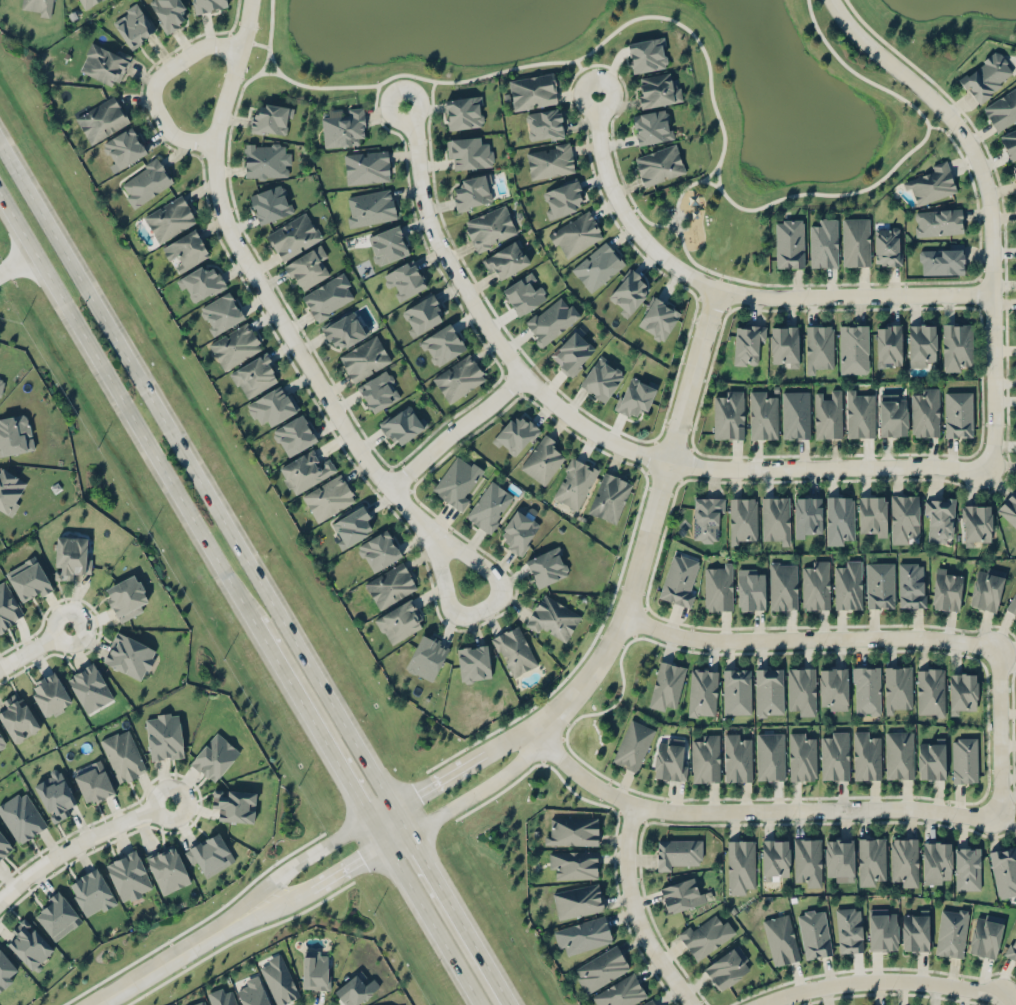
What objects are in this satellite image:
building: (86, 2)
building: (207, 4)
building: (37, 7)
building: (167, 12)
building: (133, 24)
road: (270, 26)
road: (256, 42)
building: (647, 54)
building: (104, 62)
building: (986, 76)
road: (156, 83)
building: (533, 90)
building: (656, 90)
road: (713, 92)
building: (1001, 108)
building: (464, 111)
building: (270, 118)
building: (101, 119)
building: (544, 124)
building: (652, 126)
building: (344, 127)
building: (1009, 142)
building: (124, 147)
building: (468, 152)
building: (550, 159)
building: (265, 160)
building: (658, 164)
building: (366, 166)
building: (1014, 169)
building: (145, 182)
building: (929, 183)
building: (473, 191)
building: (561, 198)
building: (270, 203)
road: (990, 203)
building: (369, 206)
building: (169, 218)
building: (937, 221)
building: (490, 227)
building: (575, 234)
building: (293, 236)
building: (855, 241)
building: (789, 242)
building: (824, 242)
building: (387, 244)
building: (888, 245)
building: (186, 248)
road: (16, 259)
road: (248, 259)
building: (506, 259)
building: (940, 260)
building: (597, 265)
building: (307, 267)
building: (404, 280)
building: (200, 283)
building: (628, 291)
road: (733, 291)
building: (524, 293)
building: (329, 296)
building: (221, 312)
building: (422, 313)
building: (550, 318)
building: (658, 318)
building: (344, 329)
building: (747, 342)
building: (920, 343)
building: (442, 344)
building: (888, 344)
building: (235, 345)
building: (783, 345)
building: (956, 345)
building: (818, 346)
building: (853, 347)
building: (574, 350)
building: (364, 358)
building: (254, 375)
building: (458, 377)
building: (601, 378)
building: (1, 385)
building: (379, 390)
building: (636, 394)
building: (272, 405)
road: (125, 407)
building: (925, 411)
building: (860, 412)
building: (827, 413)
building: (958, 413)
building: (728, 414)
building: (795, 414)
building: (892, 414)
building: (762, 415)
building: (402, 424)
road: (458, 427)
building: (15, 434)
building: (294, 434)
building: (515, 434)
road: (601, 436)
building: (542, 458)
building: (305, 470)
road: (196, 474)
building: (457, 480)
building: (574, 481)
building: (9, 489)
building: (609, 496)
building: (328, 497)
building: (490, 506)
building: (1008, 507)
building: (807, 515)
building: (871, 515)
building: (903, 516)
building: (775, 517)
road: (650, 518)
building: (707, 518)
building: (938, 518)
building: (742, 519)
building: (839, 519)
building: (976, 523)
building: (351, 525)
building: (520, 529)
building: (379, 550)
building: (71, 556)
building: (547, 566)
building: (28, 579)
building: (680, 579)
building: (911, 583)
building: (390, 584)
building: (782, 584)
building: (880, 584)
building: (815, 585)
building: (848, 585)
building: (718, 586)
building: (987, 587)
building: (946, 588)
building: (750, 589)
building: (126, 597)
building: (1012, 604)
building: (8, 607)
road: (457, 612)
building: (553, 618)
building: (399, 621)
road: (806, 637)
road: (35, 647)
building: (514, 650)
building: (129, 655)
building: (427, 655)
building: (473, 662)
building: (666, 684)
building: (89, 686)
building: (897, 686)
building: (832, 687)
building: (801, 688)
building: (866, 689)
building: (736, 690)
building: (769, 690)
building: (930, 690)
building: (961, 691)
building: (702, 692)
building: (50, 694)
building: (17, 716)
road: (1000, 731)
road: (316, 732)
building: (163, 735)
road: (511, 739)
building: (1, 742)
building: (633, 744)
building: (770, 754)
building: (899, 754)
building: (123, 755)
building: (801, 755)
building: (835, 755)
building: (865, 755)
building: (214, 756)
building: (737, 756)
building: (0, 757)
building: (670, 758)
building: (706, 758)
building: (931, 758)
building: (963, 759)
road: (438, 777)
building: (93, 781)
road: (480, 787)
building: (54, 793)
building: (235, 805)
road: (753, 809)
road: (380, 812)
building: (21, 815)
building: (573, 830)
road: (395, 836)
road: (78, 842)
building: (4, 845)
building: (678, 852)
building: (209, 853)
building: (838, 857)
building: (775, 858)
building: (807, 859)
building: (870, 859)
building: (904, 859)
building: (936, 861)
building: (573, 862)
road: (347, 865)
building: (740, 865)
building: (967, 867)
building: (168, 869)
building: (1004, 869)
road: (291, 871)
building: (128, 874)
building: (91, 892)
building: (681, 894)
building: (578, 900)
road: (452, 904)
road: (267, 908)
road: (635, 911)
building: (56, 915)
road: (430, 924)
building: (849, 929)
building: (882, 929)
building: (914, 929)
building: (951, 931)
building: (814, 933)
building: (583, 934)
building: (705, 934)
building: (985, 934)
building: (780, 938)
building: (28, 944)
building: (1012, 949)
building: (728, 966)
road: (157, 967)
building: (601, 968)
building: (6, 969)
building: (315, 970)
building: (279, 979)
road: (882, 979)
building: (355, 990)
building: (253, 992)
building: (621, 992)
building: (223, 997)
road: (1005, 1001)
building: (650, 1002)
building: (200, 1003)

